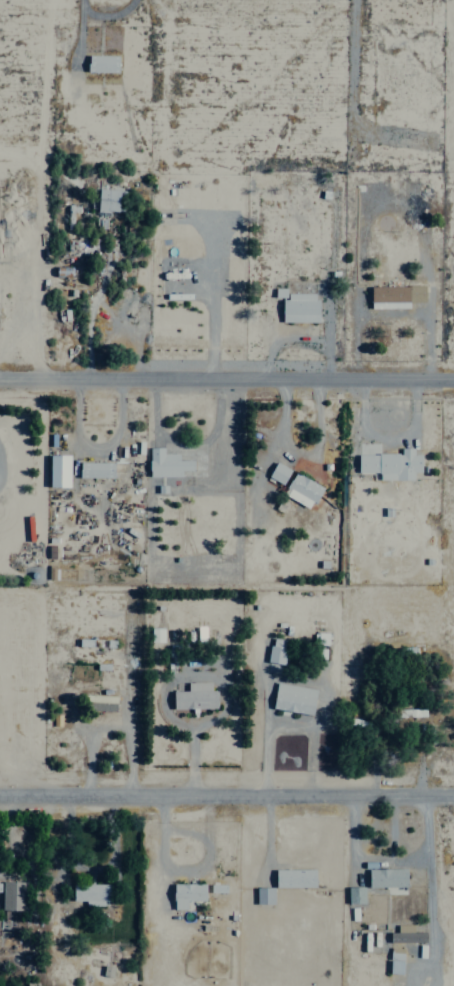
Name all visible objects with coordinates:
building: (102, 63)
building: (108, 199)
building: (395, 295)
building: (299, 307)
road: (226, 376)
building: (165, 463)
building: (390, 464)
building: (95, 469)
building: (58, 470)
building: (278, 472)
building: (302, 490)
building: (156, 634)
building: (275, 651)
building: (195, 696)
building: (293, 698)
building: (101, 703)
road: (227, 793)
building: (386, 877)
building: (294, 878)
building: (217, 888)
building: (91, 893)
building: (186, 894)
building: (264, 895)
building: (355, 895)
building: (12, 896)
building: (406, 935)
building: (395, 960)
building: (107, 971)

